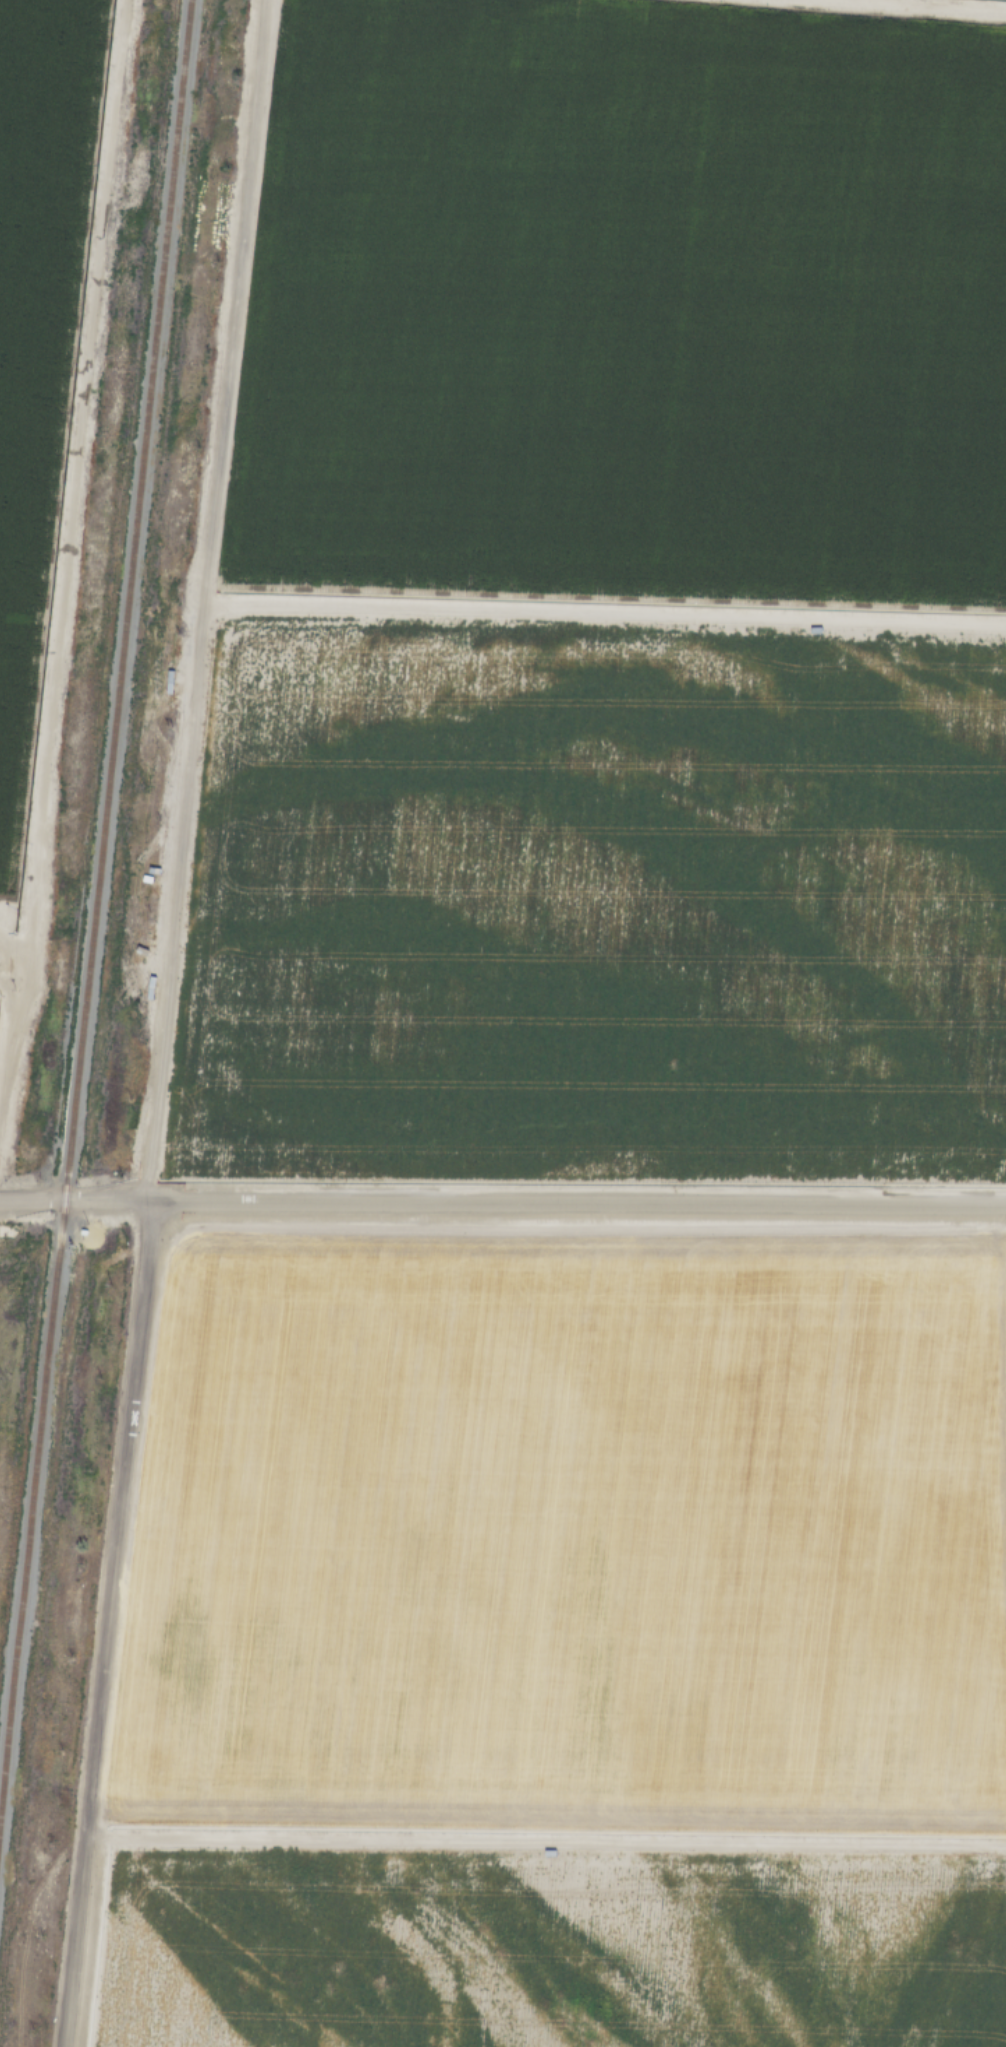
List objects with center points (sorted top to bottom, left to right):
road: (943, 4)
road: (75, 478)
road: (603, 612)
railway: (95, 905)
road: (14, 949)
road: (10, 989)
road: (166, 1024)
road: (8, 1033)
road: (502, 1205)
road: (547, 1839)

